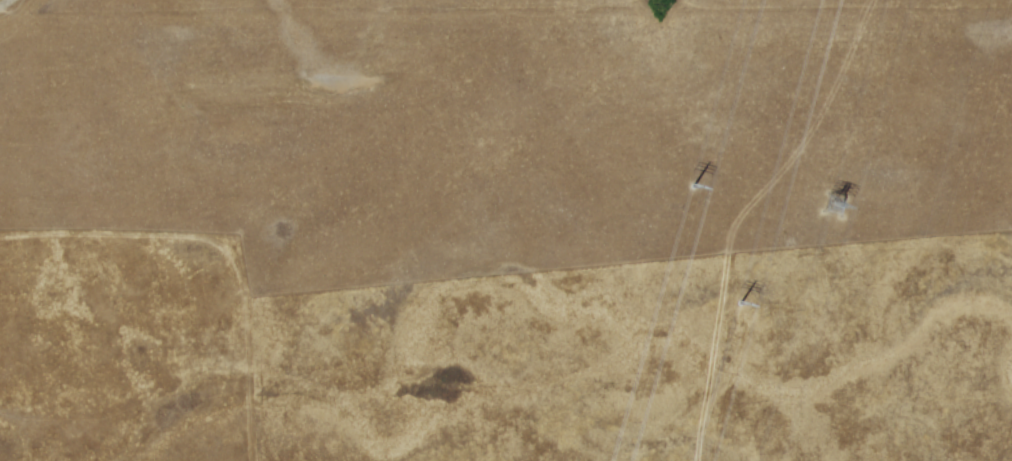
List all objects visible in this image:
power tower: (834, 206)

